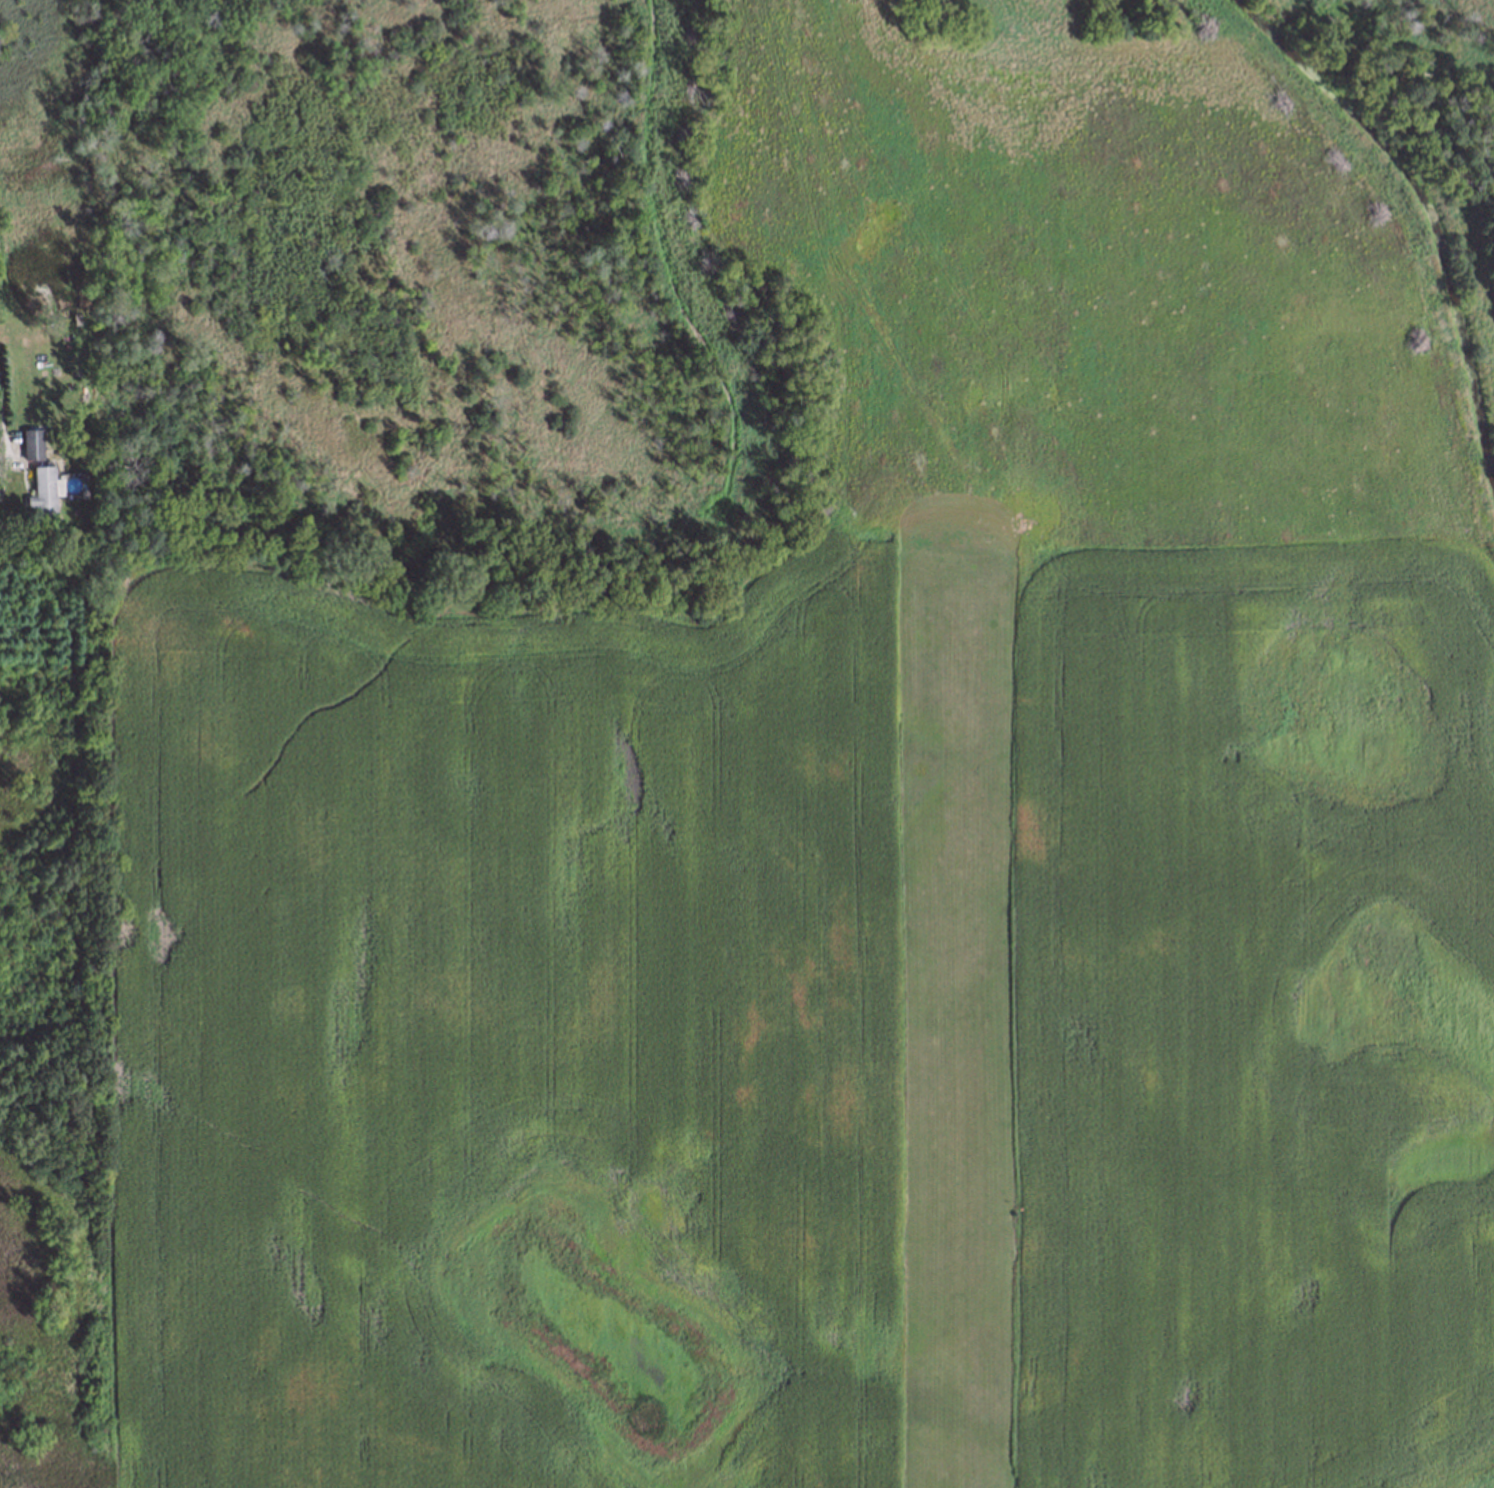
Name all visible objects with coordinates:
building: (75, 318)
building: (29, 442)
building: (42, 491)
airport runway: (948, 1027)

